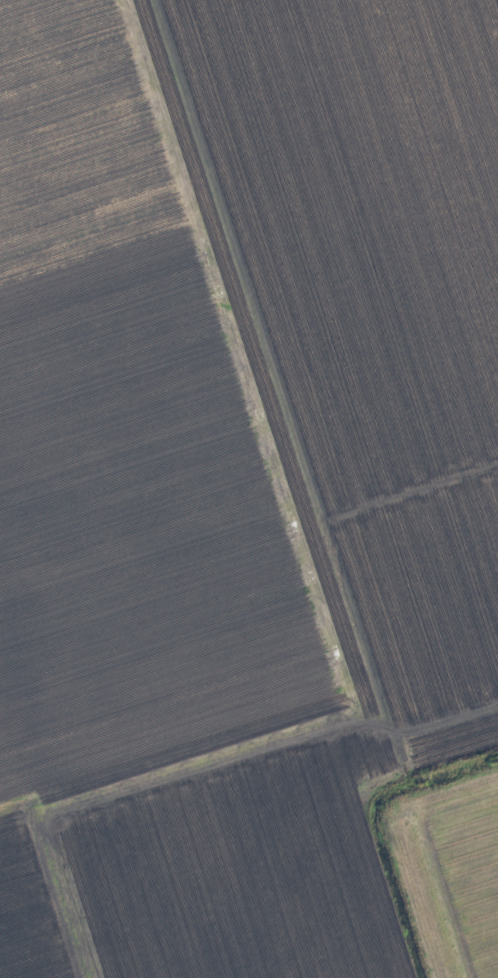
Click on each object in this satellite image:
road: (379, 829)

